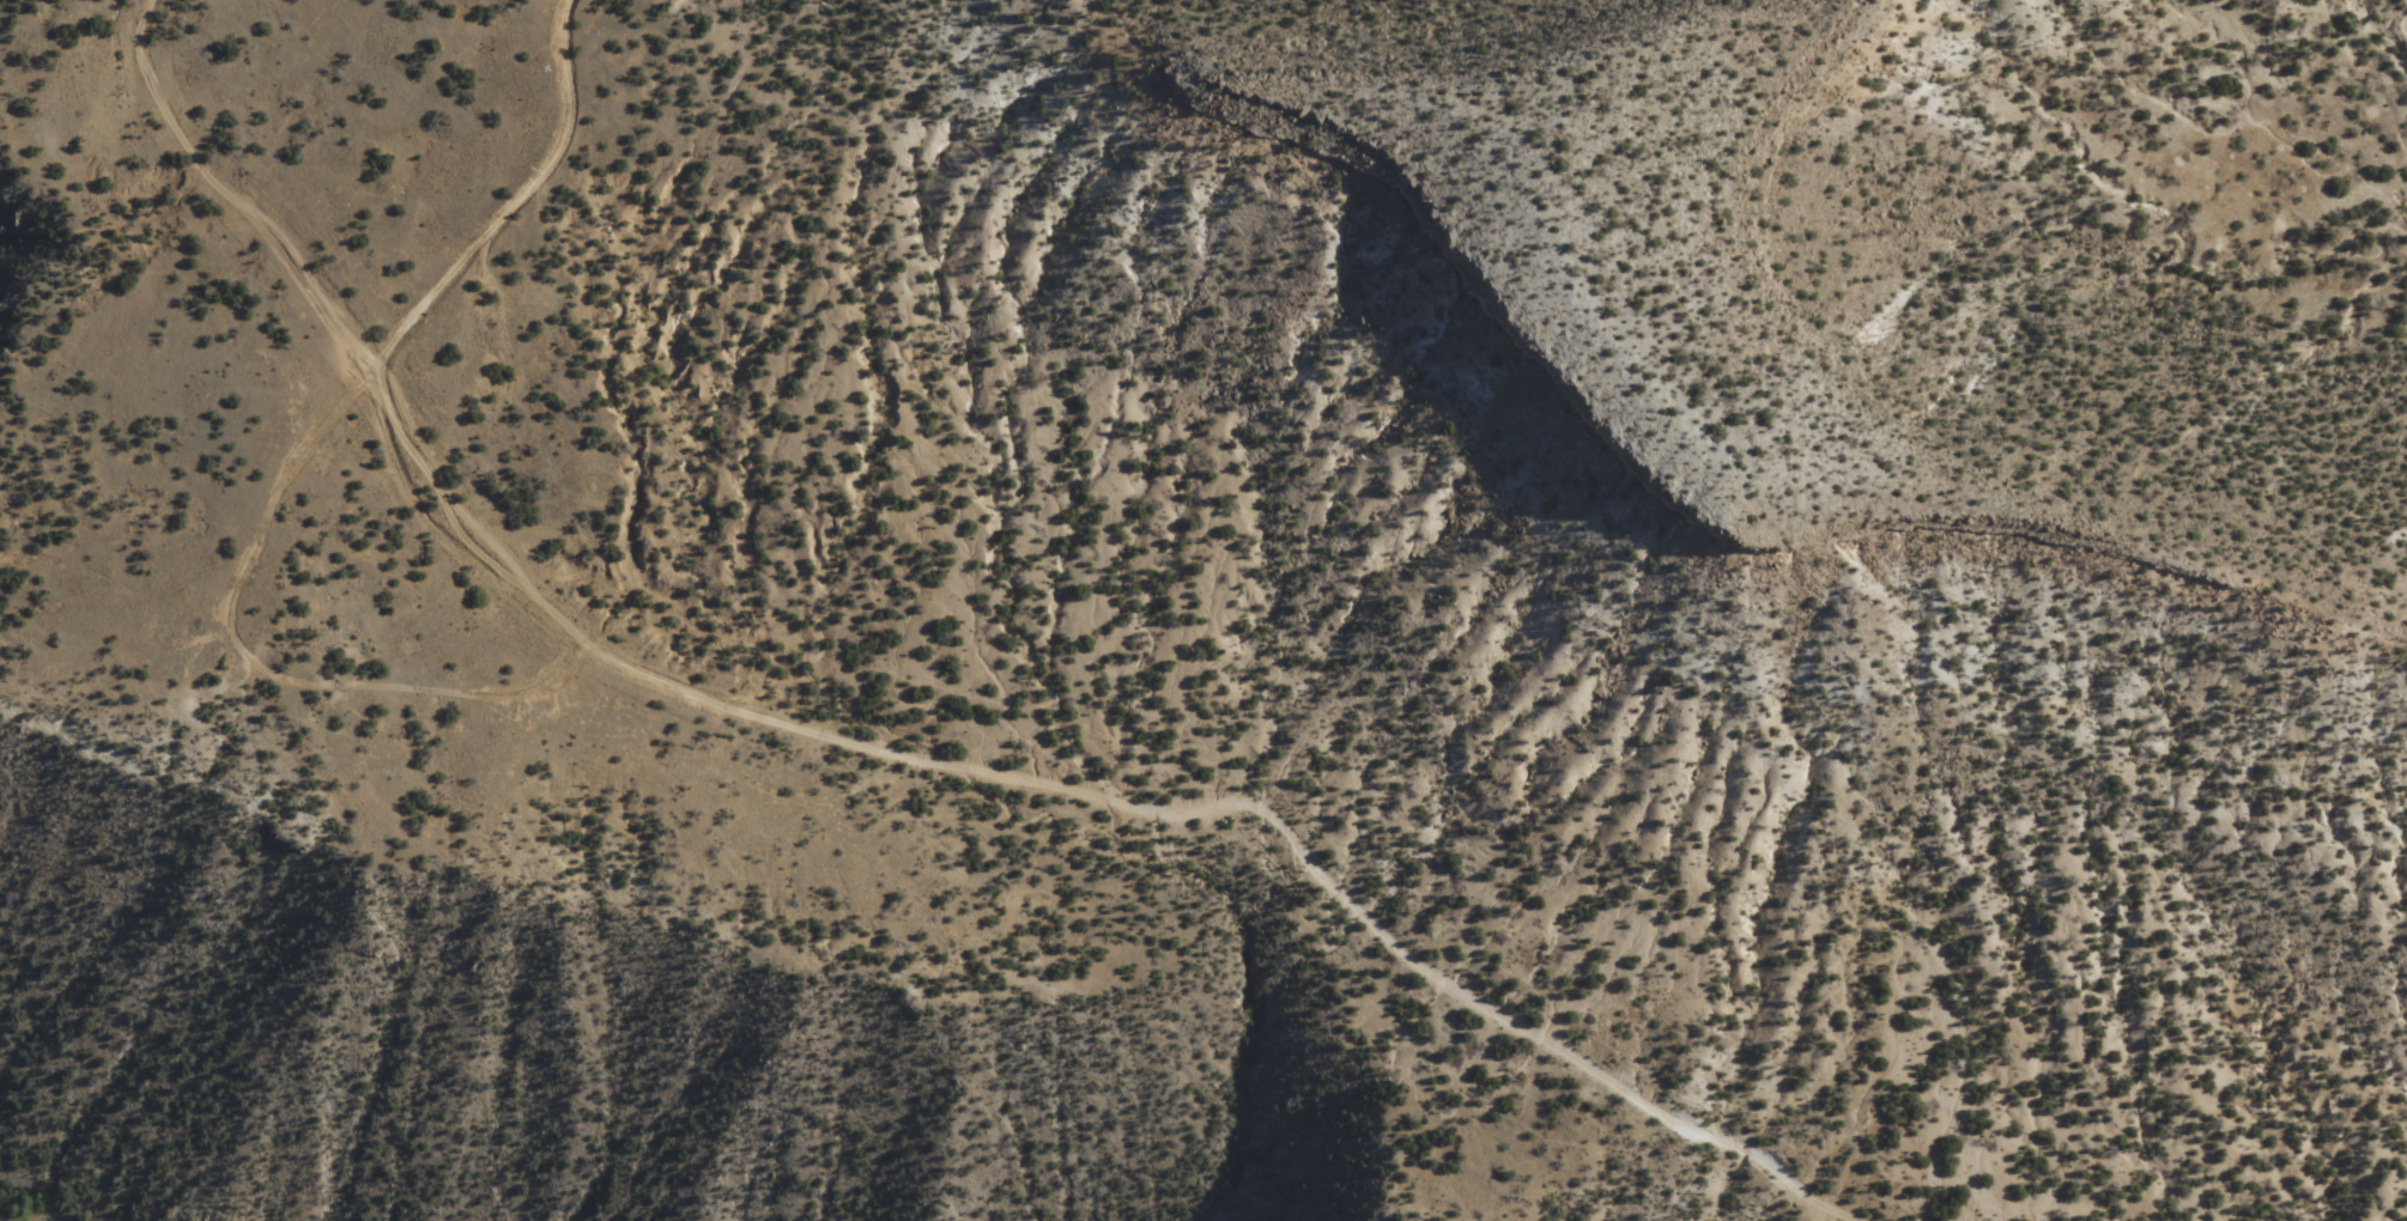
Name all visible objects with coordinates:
road: (485, 186)
road: (229, 195)
road: (1098, 800)

